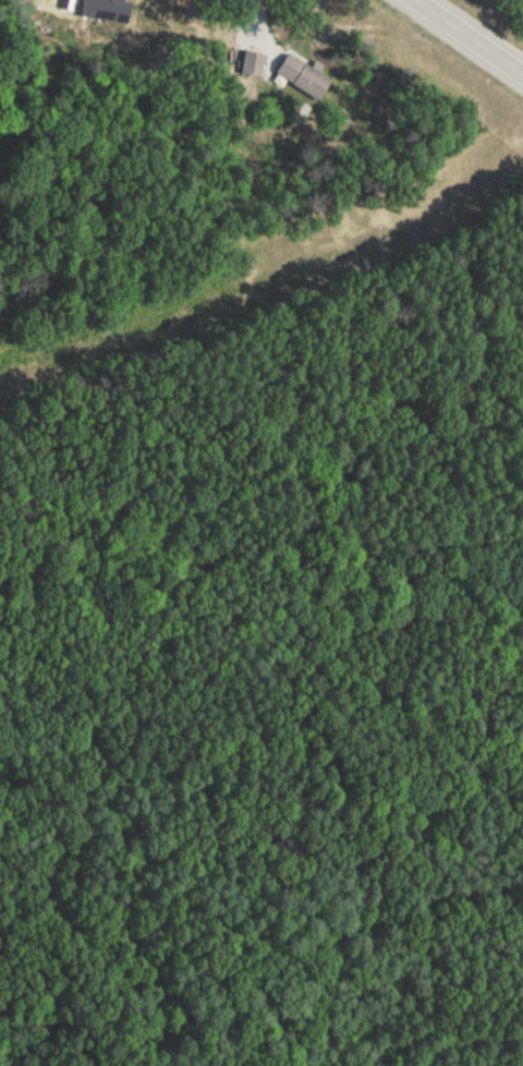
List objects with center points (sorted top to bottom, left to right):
road: (469, 36)

